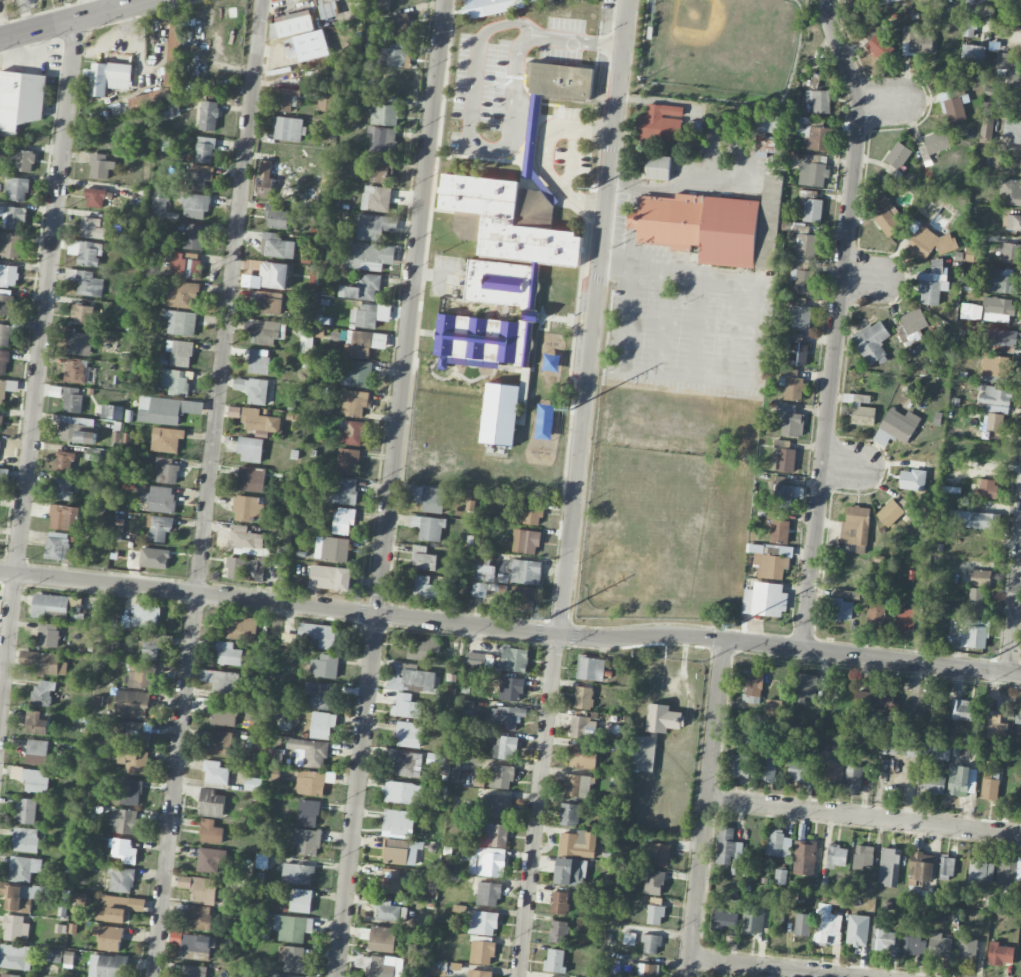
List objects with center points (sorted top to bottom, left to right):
building: (884, 1)
road: (115, 5)
building: (977, 6)
building: (491, 7)
building: (328, 8)
road: (77, 19)
building: (291, 25)
building: (400, 26)
building: (969, 28)
building: (871, 32)
road: (1012, 39)
road: (576, 42)
building: (916, 42)
building: (880, 46)
building: (298, 47)
building: (173, 55)
building: (396, 55)
building: (972, 56)
building: (1009, 68)
building: (109, 77)
building: (285, 99)
building: (20, 100)
building: (150, 100)
building: (326, 102)
building: (819, 102)
road: (884, 104)
building: (1017, 104)
building: (954, 110)
building: (170, 111)
building: (385, 112)
building: (209, 116)
building: (660, 123)
building: (764, 124)
building: (288, 129)
building: (1013, 131)
road: (469, 137)
building: (381, 139)
building: (819, 139)
building: (937, 142)
building: (765, 144)
building: (204, 150)
road: (549, 155)
building: (898, 155)
building: (925, 155)
road: (572, 159)
building: (23, 160)
building: (100, 166)
building: (657, 167)
building: (382, 170)
building: (813, 174)
building: (200, 177)
building: (268, 182)
building: (319, 184)
road: (679, 184)
power tower: (595, 188)
building: (17, 189)
building: (1010, 192)
building: (95, 198)
building: (376, 199)
building: (194, 205)
building: (813, 210)
building: (886, 215)
building: (276, 216)
building: (13, 218)
building: (1011, 222)
building: (714, 225)
building: (374, 226)
building: (93, 228)
building: (194, 237)
building: (508, 237)
building: (929, 244)
building: (10, 245)
building: (277, 246)
building: (807, 246)
building: (85, 252)
building: (1011, 253)
building: (367, 255)
building: (186, 265)
building: (8, 275)
building: (71, 275)
building: (269, 276)
road: (867, 279)
building: (999, 280)
building: (804, 282)
building: (89, 284)
building: (931, 285)
building: (362, 289)
building: (181, 294)
building: (6, 302)
building: (83, 302)
building: (270, 306)
building: (998, 309)
building: (972, 311)
building: (81, 314)
building: (364, 316)
road: (592, 317)
building: (801, 318)
road: (837, 321)
building: (180, 323)
building: (913, 327)
building: (306, 329)
building: (266, 332)
building: (5, 335)
building: (999, 337)
building: (872, 342)
building: (77, 344)
building: (364, 344)
building: (796, 350)
building: (180, 353)
road: (38, 360)
building: (258, 361)
building: (3, 362)
road: (747, 366)
building: (995, 366)
building: (75, 371)
building: (356, 373)
building: (176, 382)
building: (790, 385)
building: (7, 389)
building: (252, 390)
building: (995, 396)
building: (71, 400)
building: (354, 403)
power tower: (572, 407)
building: (165, 410)
building: (862, 411)
building: (112, 412)
building: (234, 412)
building: (500, 414)
building: (791, 420)
building: (1, 421)
building: (259, 421)
building: (992, 422)
building: (896, 427)
building: (77, 429)
building: (351, 433)
building: (0, 439)
building: (166, 440)
building: (250, 450)
building: (91, 455)
building: (785, 456)
building: (64, 461)
building: (347, 461)
road: (847, 466)
building: (167, 471)
building: (911, 476)
building: (248, 479)
building: (62, 487)
road: (206, 488)
road: (390, 488)
building: (987, 488)
building: (345, 491)
building: (415, 494)
building: (783, 495)
building: (159, 499)
building: (434, 503)
building: (247, 508)
building: (532, 512)
building: (890, 513)
building: (64, 517)
building: (343, 520)
building: (974, 520)
building: (855, 526)
building: (428, 527)
building: (159, 528)
building: (779, 531)
building: (245, 538)
building: (526, 541)
building: (57, 546)
building: (331, 549)
building: (154, 558)
building: (423, 558)
building: (483, 559)
building: (244, 568)
building: (485, 572)
building: (526, 572)
building: (331, 578)
building: (980, 578)
building: (426, 588)
building: (479, 589)
building: (522, 598)
building: (764, 600)
building: (976, 603)
building: (49, 604)
building: (842, 605)
road: (361, 613)
road: (1014, 613)
building: (56, 616)
building: (143, 617)
building: (878, 617)
power tower: (547, 619)
building: (906, 620)
power tower: (740, 625)
building: (241, 629)
building: (48, 635)
building: (316, 635)
building: (973, 637)
building: (151, 647)
building: (422, 648)
building: (228, 654)
road: (872, 657)
power tower: (996, 659)
building: (475, 660)
building: (514, 660)
building: (44, 663)
building: (324, 666)
building: (590, 668)
building: (141, 675)
building: (411, 679)
building: (221, 681)
building: (753, 686)
building: (806, 687)
building: (511, 689)
building: (42, 694)
building: (318, 695)
building: (583, 698)
building: (874, 700)
building: (132, 703)
building: (773, 705)
building: (407, 706)
building: (965, 710)
building: (224, 713)
building: (506, 717)
building: (1017, 719)
building: (992, 721)
building: (36, 724)
building: (320, 725)
building: (583, 727)
building: (753, 733)
building: (134, 734)
building: (408, 734)
building: (653, 735)
building: (222, 743)
building: (504, 747)
building: (906, 750)
building: (36, 752)
building: (309, 752)
building: (274, 756)
building: (583, 757)
building: (436, 760)
building: (134, 762)
building: (769, 762)
building: (406, 764)
building: (741, 766)
building: (831, 766)
building: (798, 771)
building: (215, 775)
building: (501, 777)
building: (853, 779)
building: (962, 780)
building: (310, 783)
building: (934, 783)
building: (251, 786)
building: (578, 786)
building: (989, 789)
building: (130, 792)
building: (402, 793)
building: (498, 803)
building: (211, 804)
road: (538, 806)
road: (705, 808)
building: (26, 811)
building: (308, 813)
building: (569, 815)
road: (864, 816)
building: (123, 821)
building: (396, 822)
building: (210, 832)
building: (497, 836)
building: (25, 840)
building: (306, 841)
building: (578, 844)
building: (778, 844)
building: (728, 850)
building: (123, 851)
building: (402, 852)
building: (660, 855)
building: (836, 856)
building: (862, 857)
building: (804, 858)
building: (210, 860)
building: (490, 862)
building: (921, 866)
building: (889, 867)
building: (946, 867)
building: (23, 869)
building: (570, 872)
building: (298, 874)
building: (981, 875)
building: (1007, 875)
building: (121, 880)
building: (391, 880)
building: (654, 883)
building: (200, 889)
building: (488, 894)
building: (18, 897)
building: (301, 900)
building: (559, 902)
building: (78, 903)
building: (118, 908)
building: (388, 911)
building: (655, 911)
building: (200, 917)
building: (753, 919)
building: (723, 920)
building: (483, 923)
building: (802, 925)
building: (827, 926)
building: (15, 928)
building: (292, 928)
building: (558, 932)
building: (109, 938)
building: (629, 938)
building: (382, 939)
building: (882, 939)
building: (913, 942)
building: (195, 943)
building: (651, 944)
building: (939, 946)
building: (967, 947)
building: (482, 950)
building: (999, 954)
building: (51, 955)
building: (15, 957)
building: (292, 958)
building: (555, 960)
building: (438, 965)
building: (108, 966)
building: (382, 966)
road: (766, 968)
building: (647, 969)
building: (195, 971)
building: (478, 973)
building: (9, 975)
building: (284, 975)

